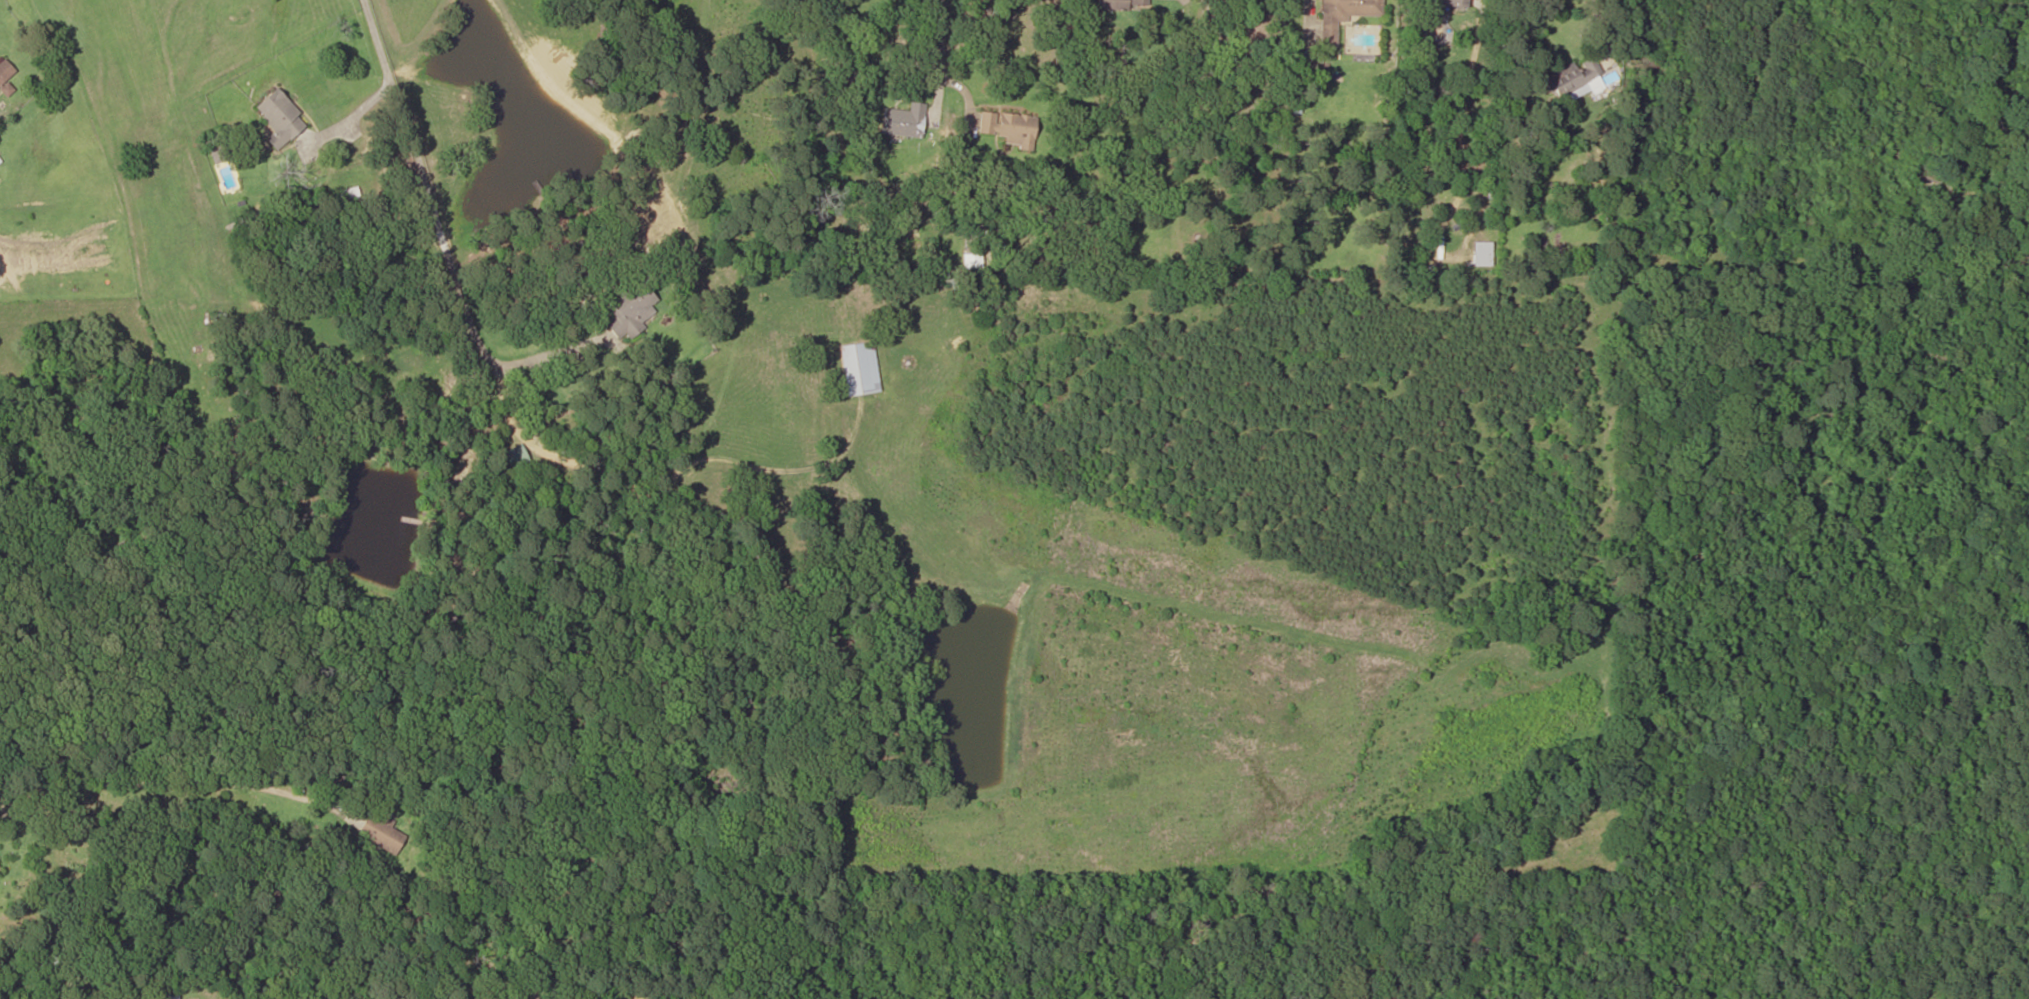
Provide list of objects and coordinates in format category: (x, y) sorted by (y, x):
building: (1119, 4)
building: (1450, 5)
building: (1343, 15)
building: (4, 75)
building: (1574, 77)
building: (279, 118)
building: (903, 120)
building: (1007, 126)
building: (1481, 253)
building: (631, 307)
building: (859, 367)
building: (514, 456)
building: (380, 833)
building: (167, 994)
building: (802, 998)

